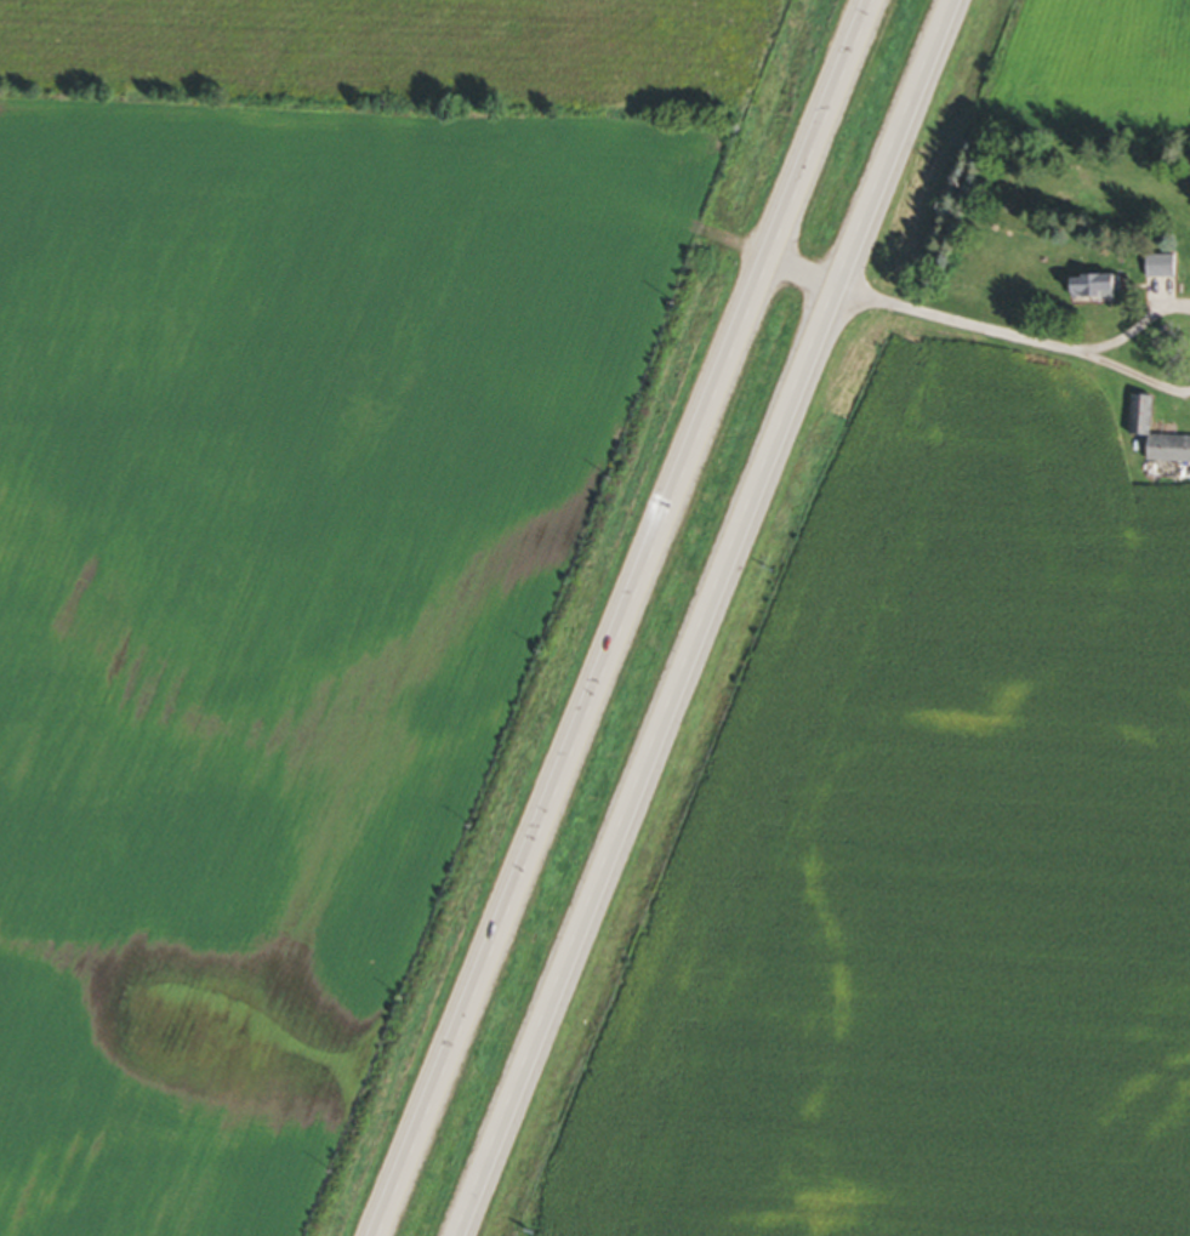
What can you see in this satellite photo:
building: (1166, 269)
road: (796, 273)
building: (1101, 290)
road: (958, 321)
road: (1135, 324)
road: (1135, 375)
building: (1143, 418)
road: (704, 617)
road: (611, 619)

